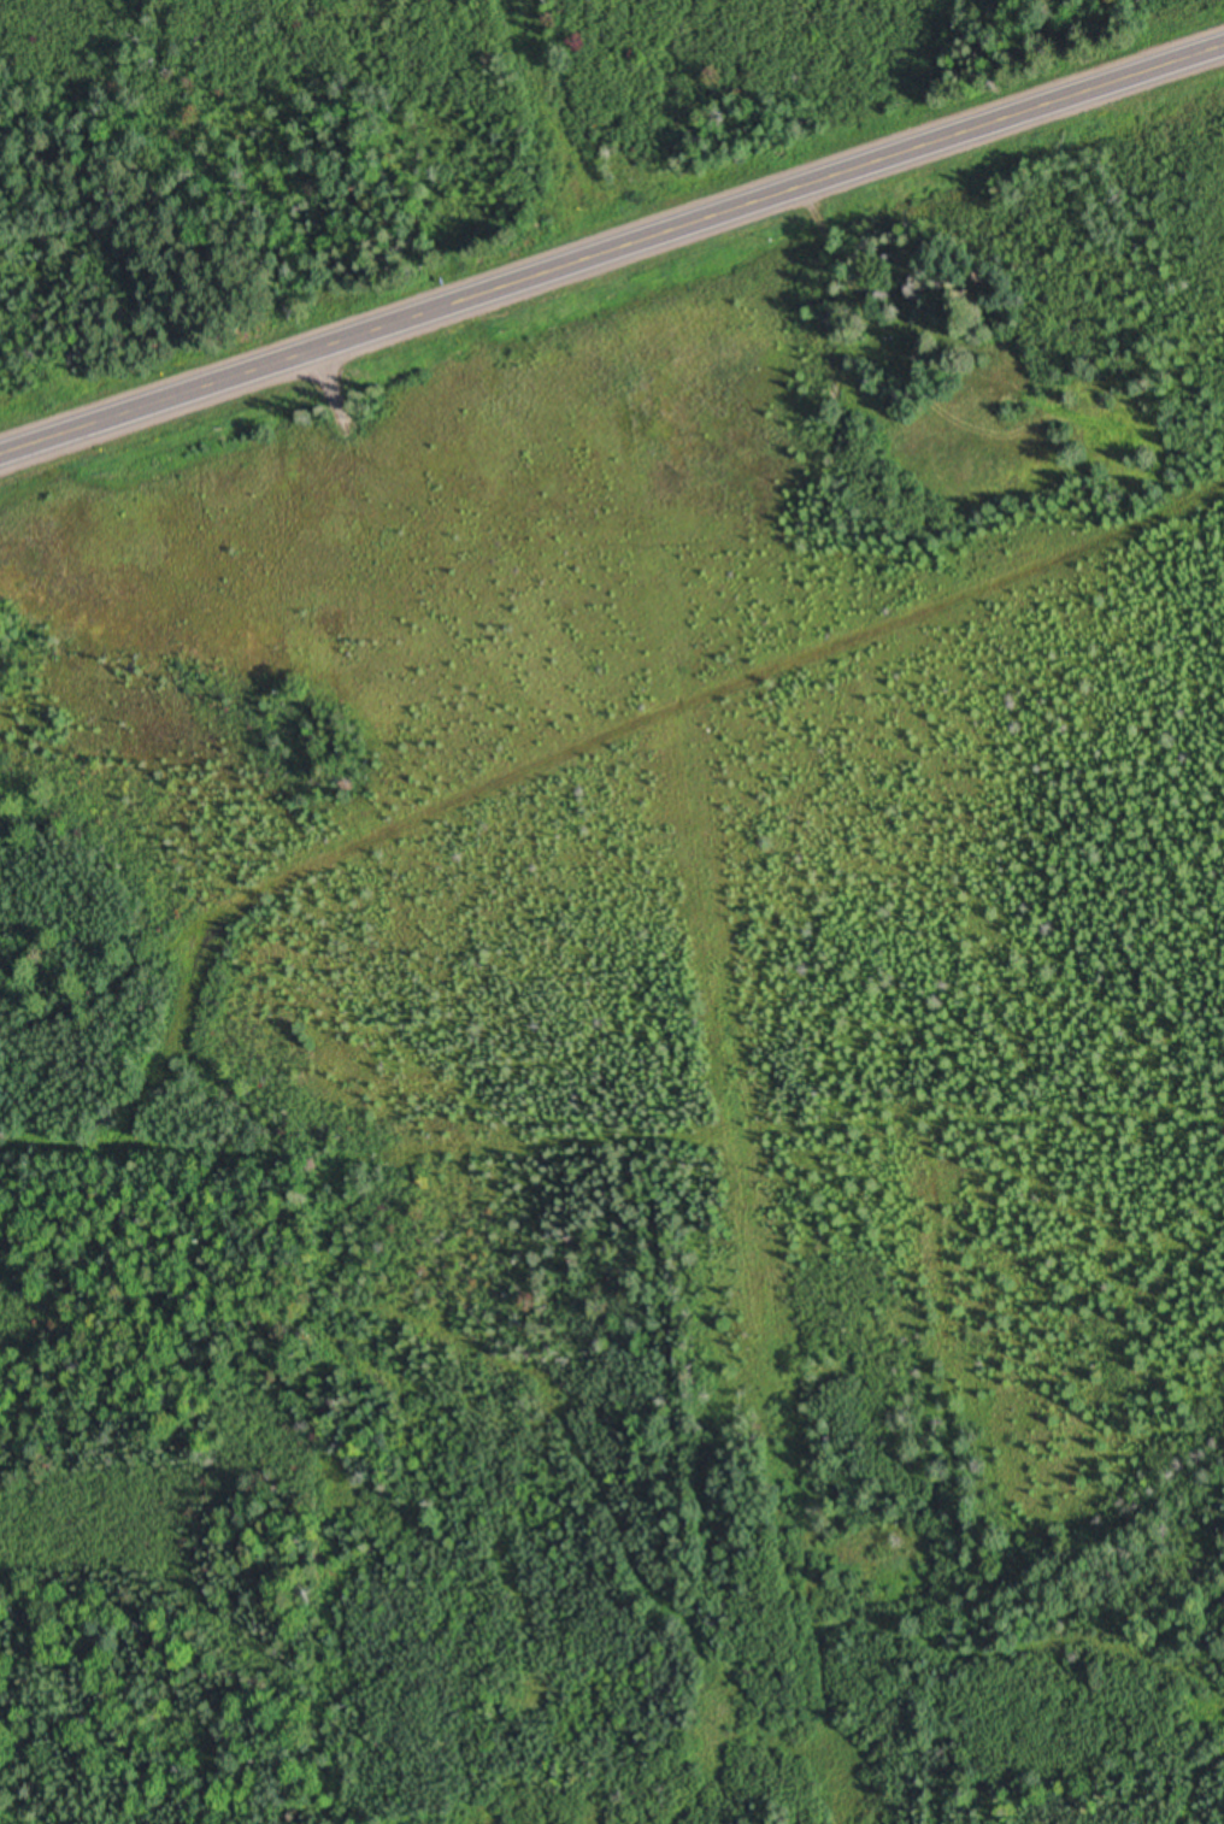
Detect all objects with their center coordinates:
road: (611, 249)

